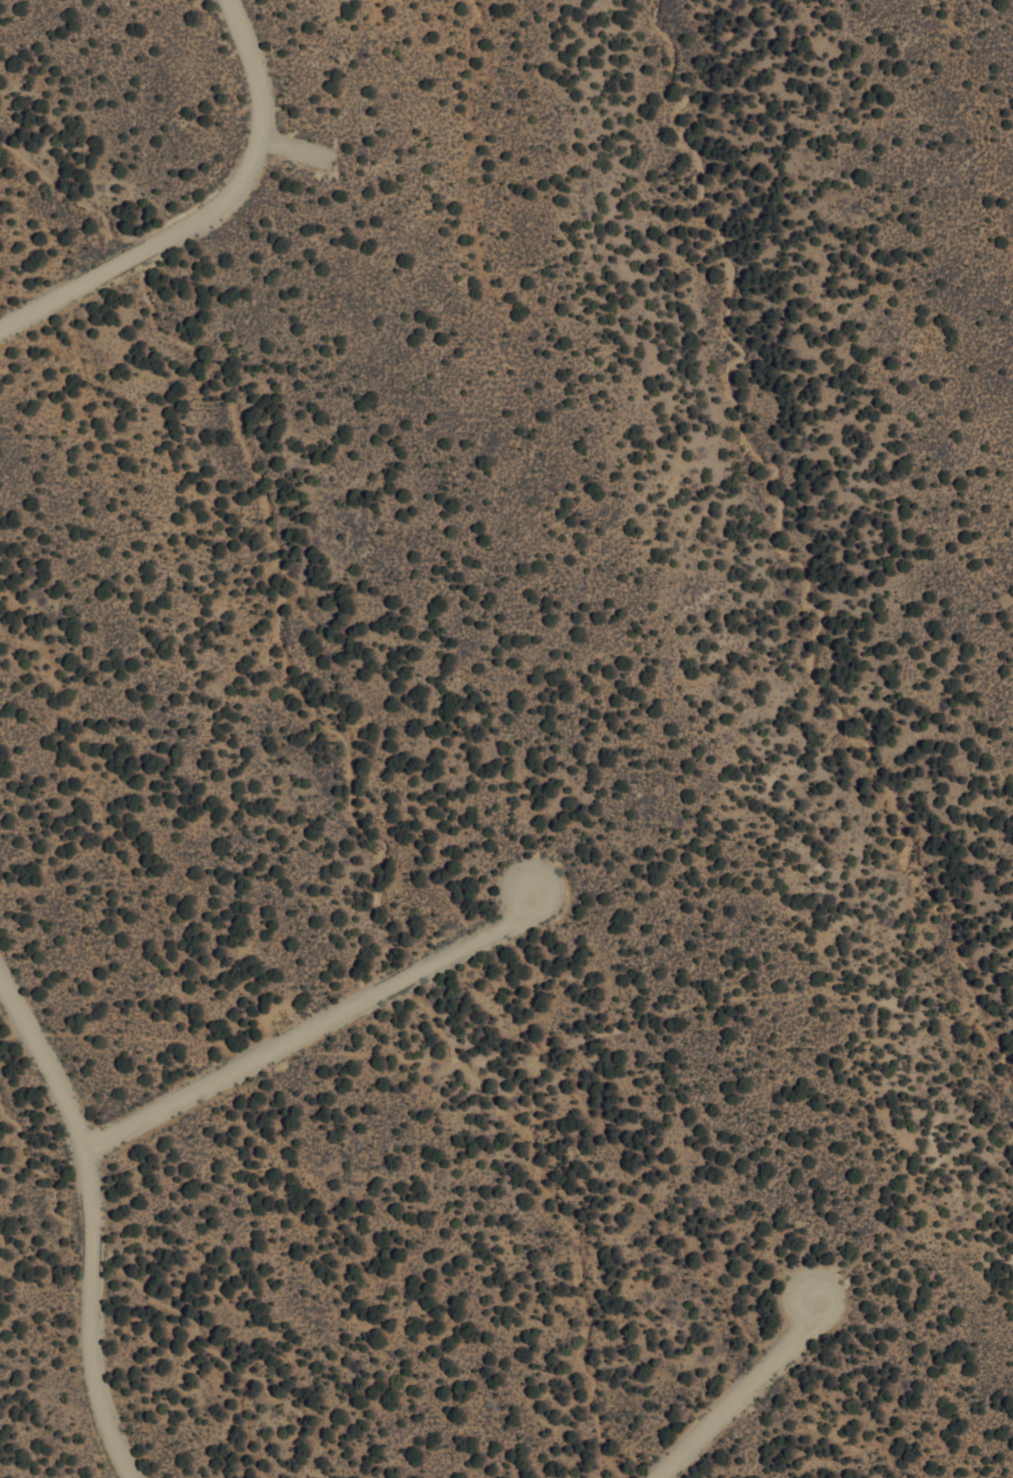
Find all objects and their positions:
road: (205, 211)
road: (308, 1025)
road: (85, 1225)
road: (732, 1390)

